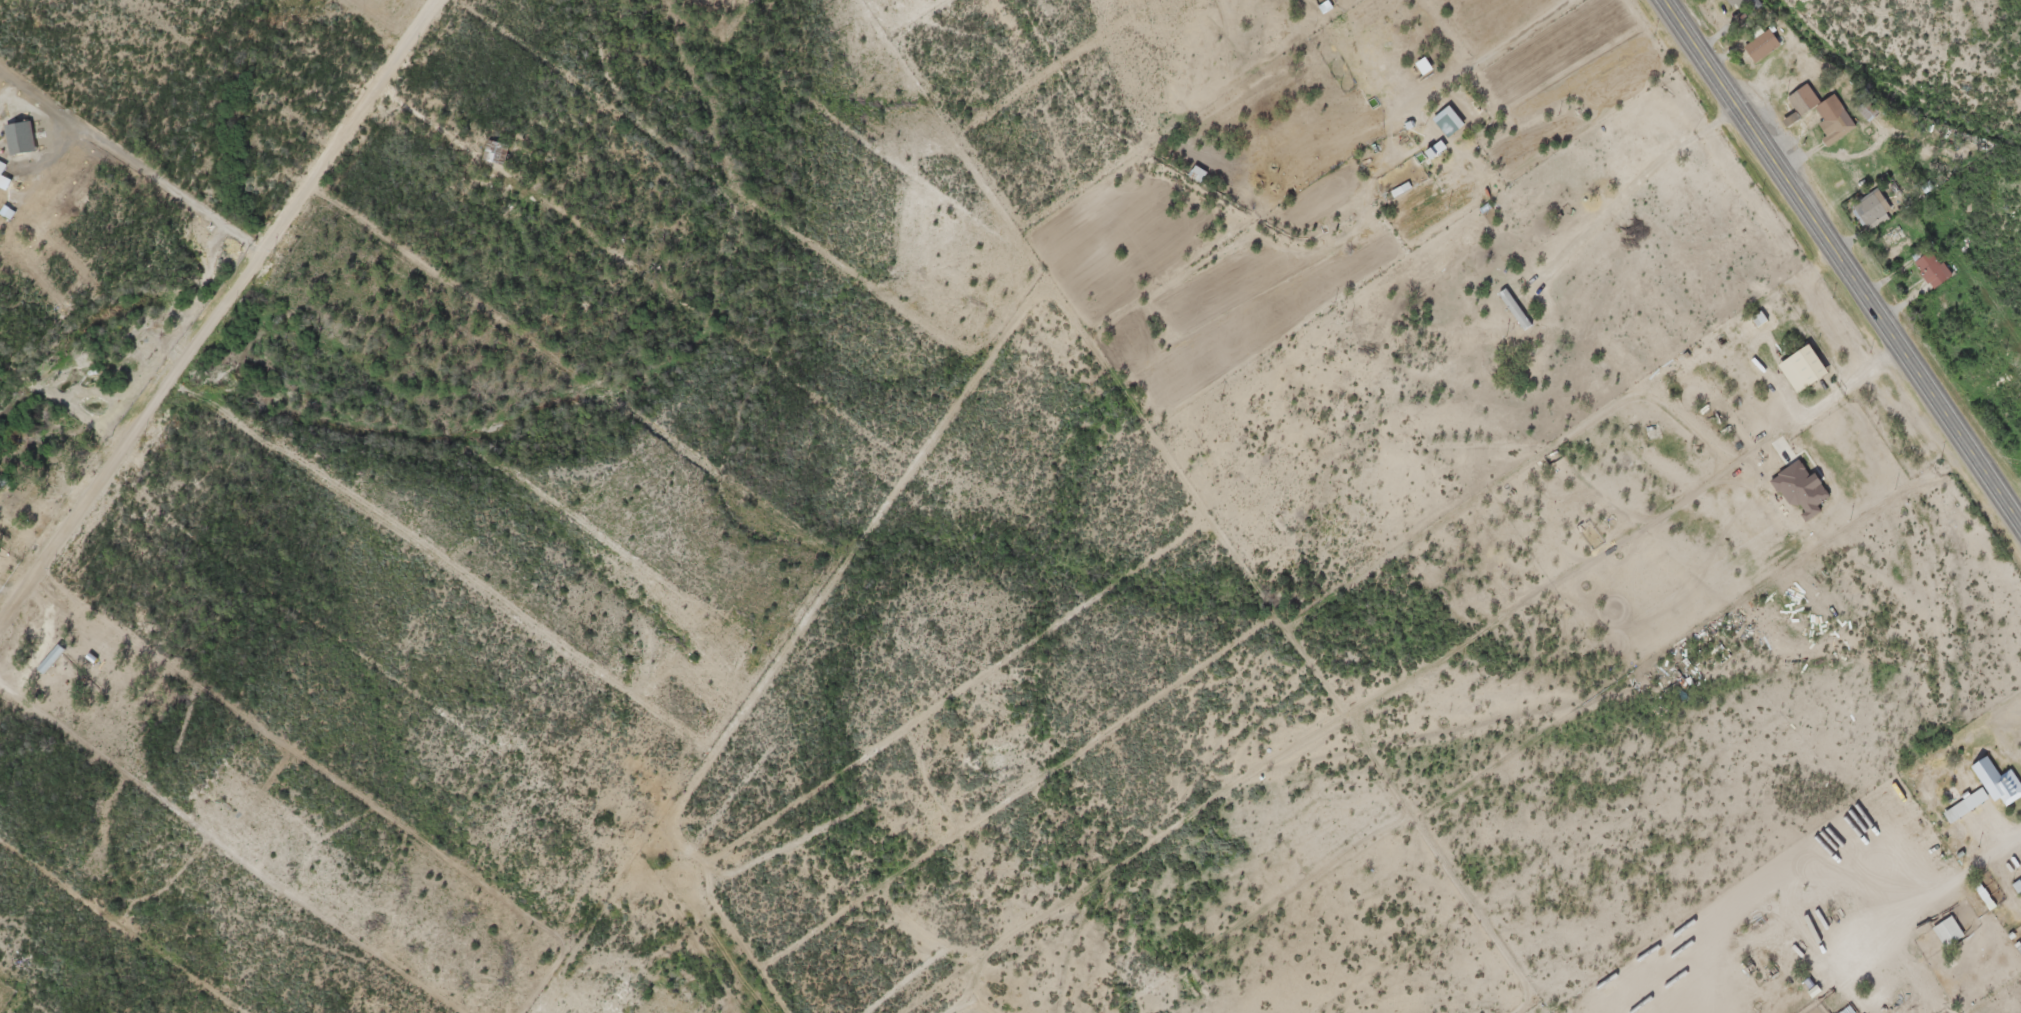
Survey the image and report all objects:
building: (1736, 4)
building: (1757, 47)
building: (1815, 116)
building: (494, 147)
road: (112, 208)
building: (1864, 210)
road: (1846, 259)
building: (1926, 271)
road: (1227, 513)
building: (1981, 792)
building: (1941, 934)
road: (1055, 972)
road: (514, 980)

